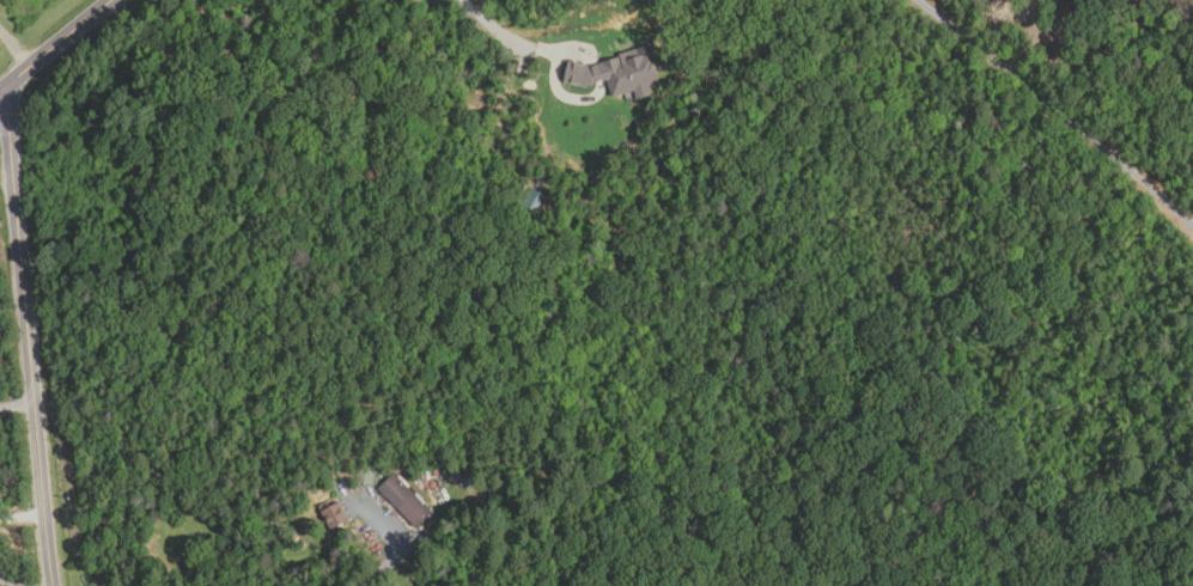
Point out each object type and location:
road: (492, 39)
road: (56, 45)
road: (14, 49)
building: (621, 74)
building: (535, 200)
road: (30, 337)
building: (456, 471)
building: (366, 474)
building: (469, 480)
building: (497, 490)
building: (407, 501)
building: (336, 514)

